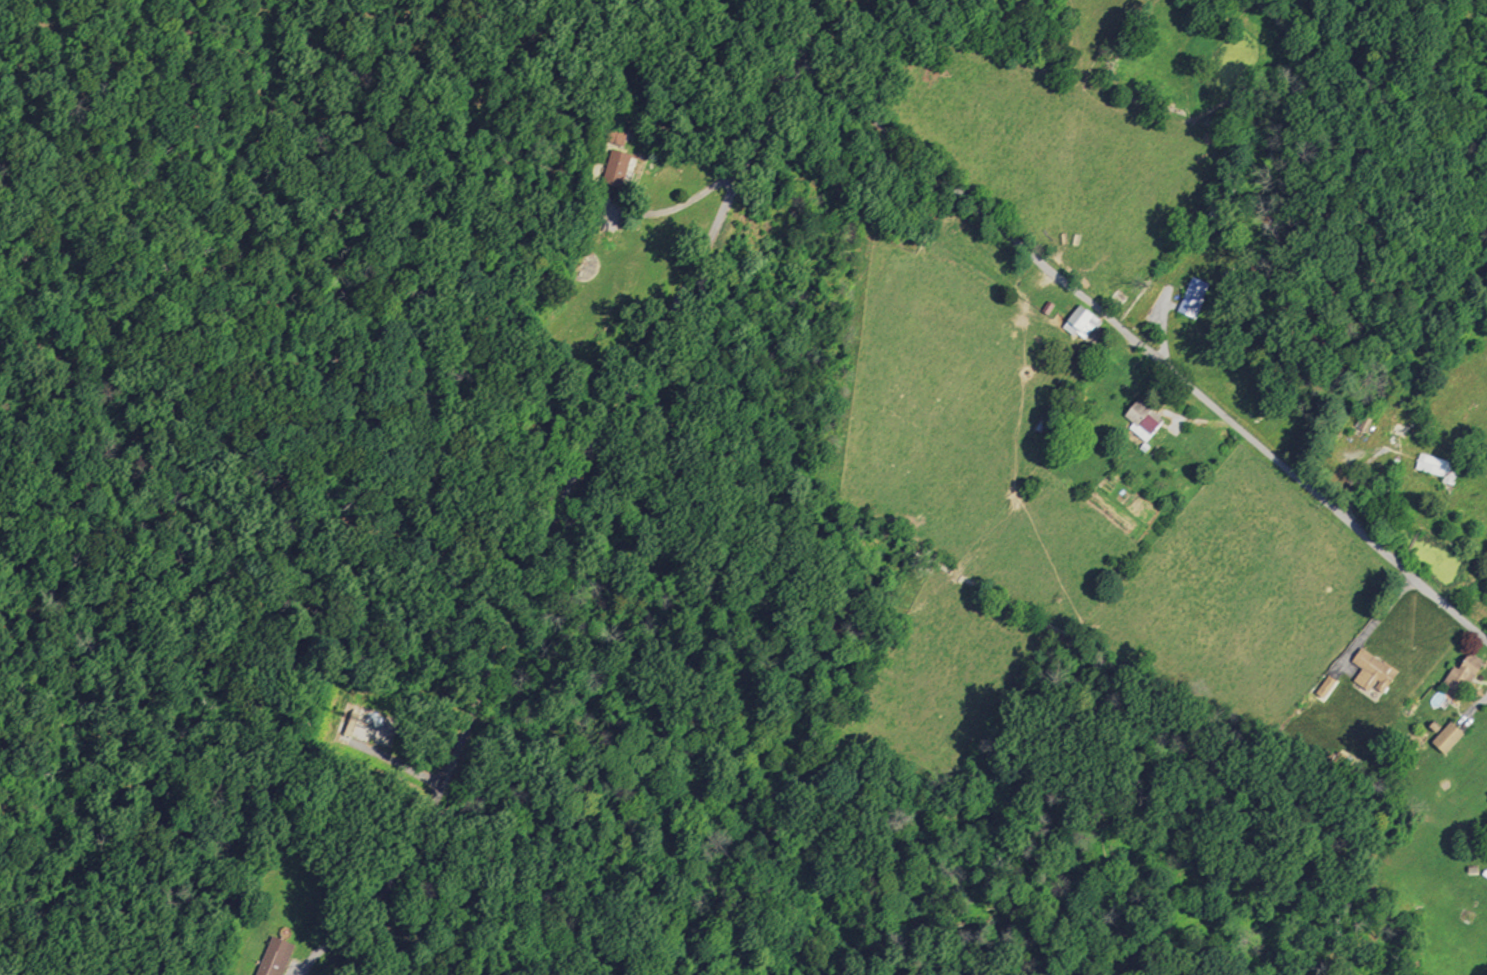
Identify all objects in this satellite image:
building: (615, 131)
building: (618, 170)
road: (656, 212)
road: (52, 224)
building: (1193, 298)
building: (1082, 322)
road: (1159, 324)
road: (1142, 347)
road: (285, 348)
road: (1184, 418)
building: (1144, 420)
building: (1399, 429)
road: (1351, 468)
building: (1439, 468)
road: (563, 492)
road: (1372, 624)
building: (1373, 674)
building: (1463, 674)
building: (1325, 688)
road: (1473, 710)
building: (351, 724)
building: (1447, 738)
road: (394, 762)
road: (508, 828)
building: (276, 958)

